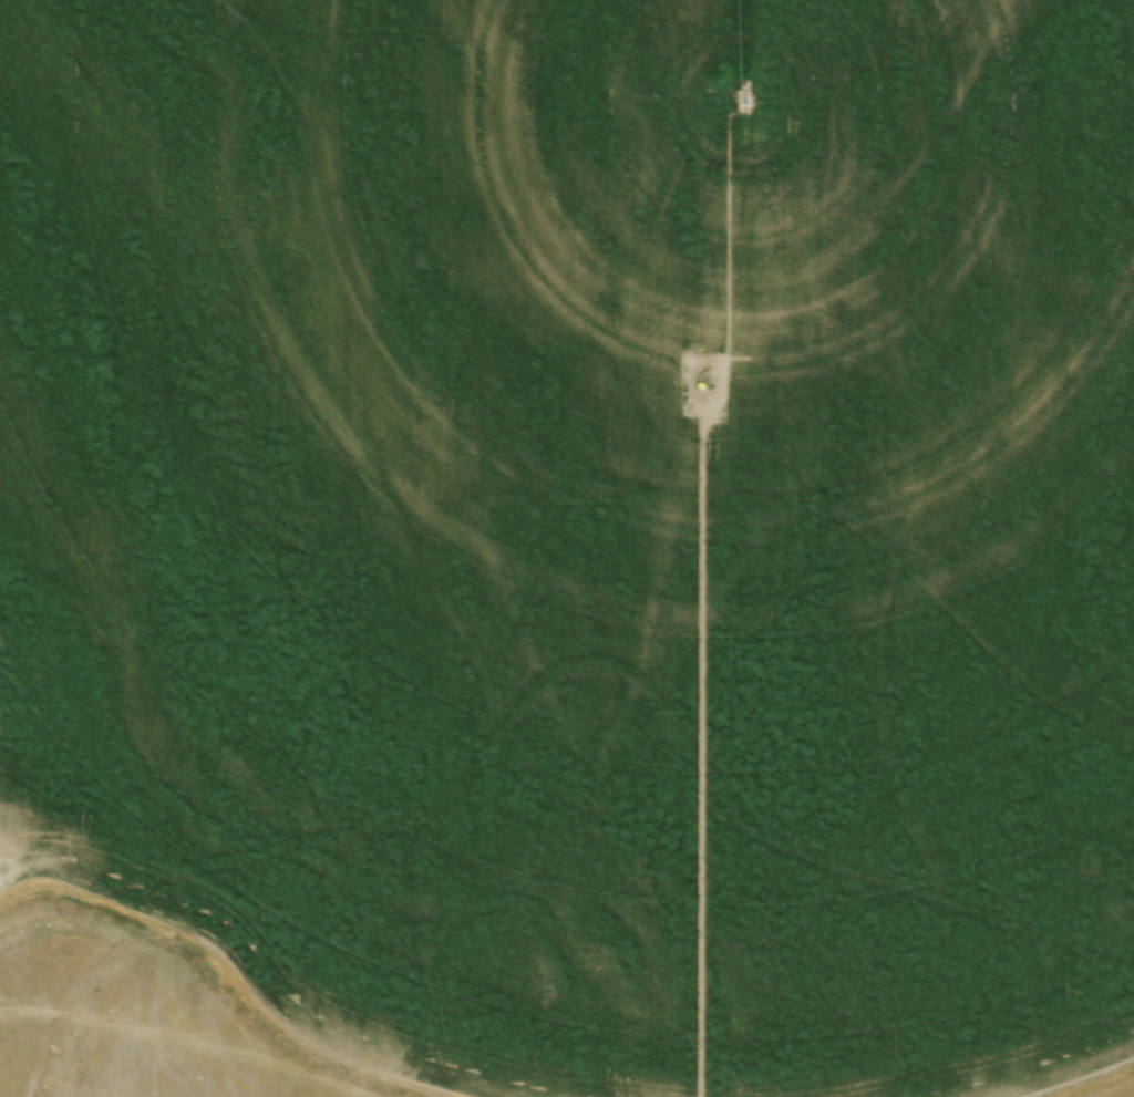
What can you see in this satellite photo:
crop: (585, 525)

